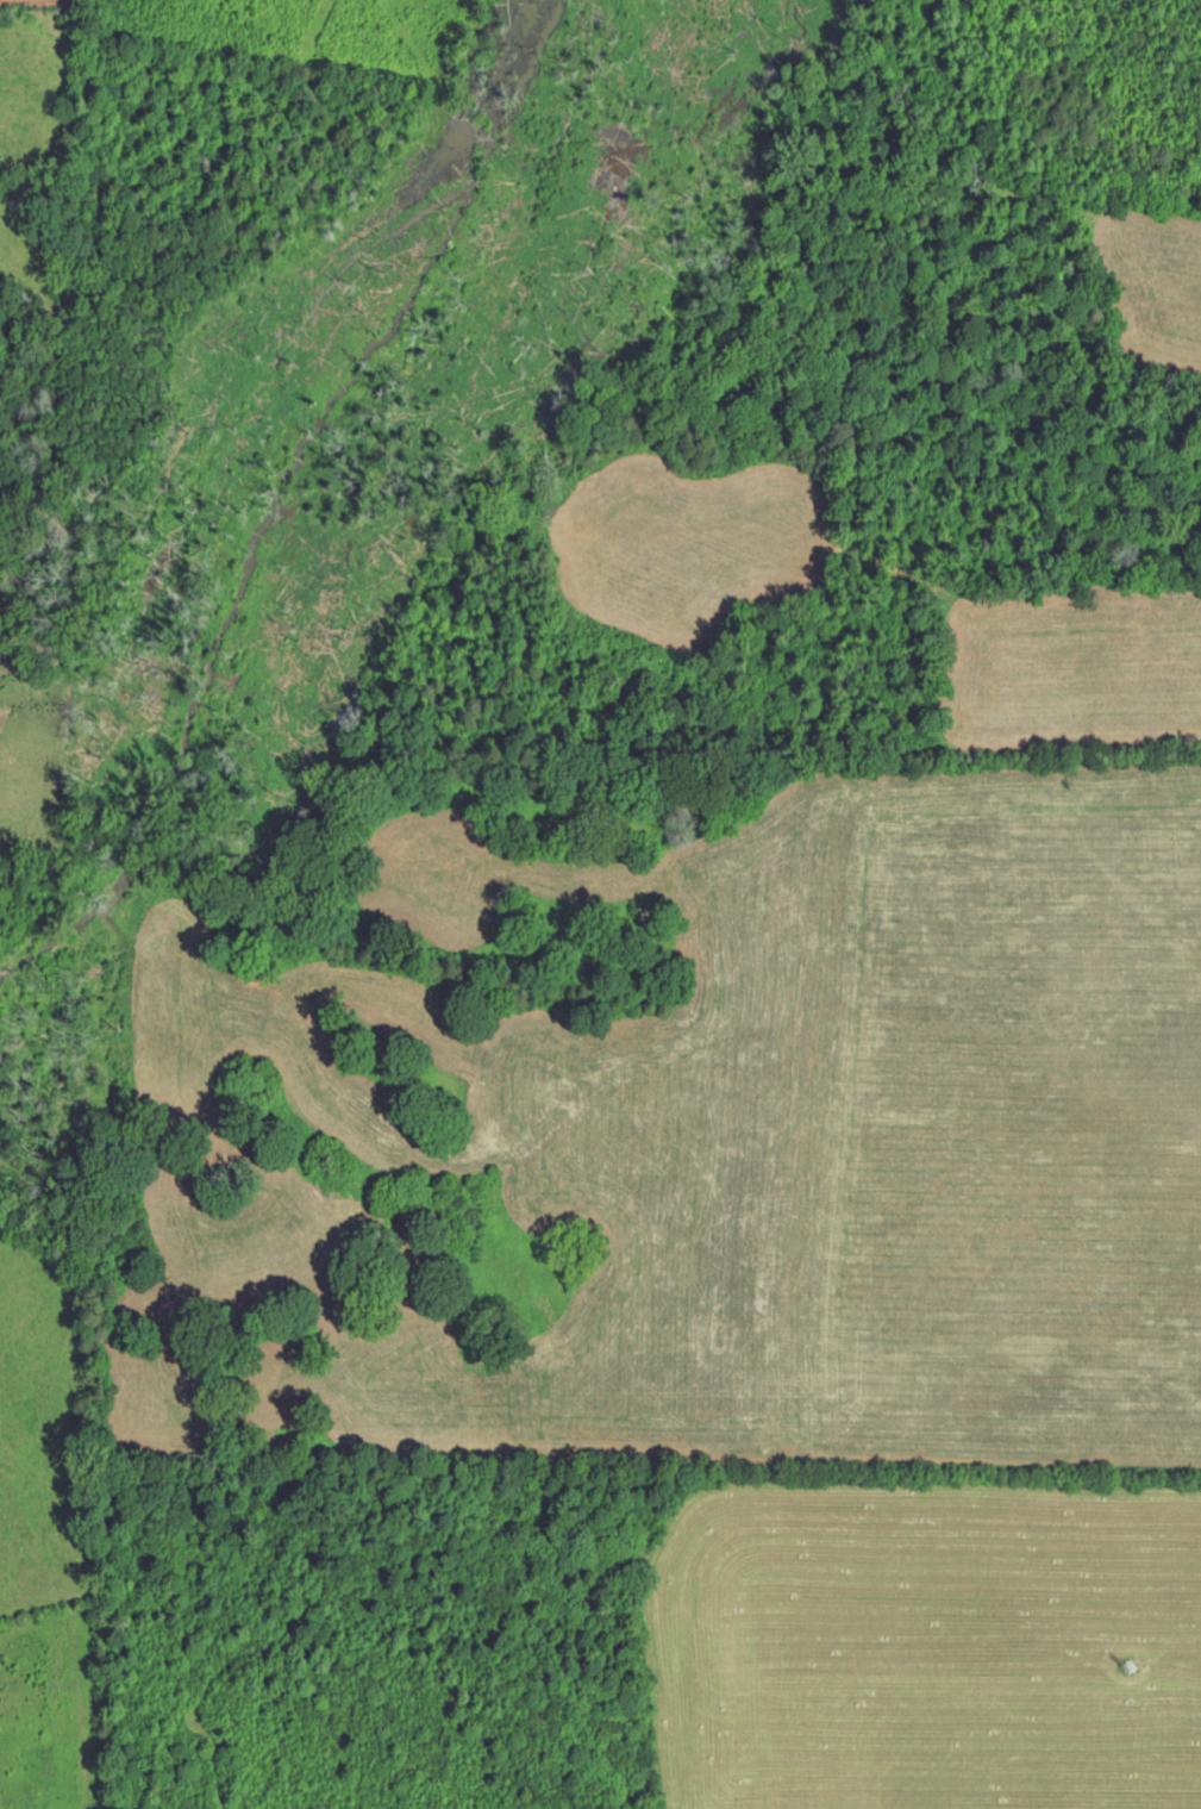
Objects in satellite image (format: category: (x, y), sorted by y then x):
power tower: (1134, 1665)

